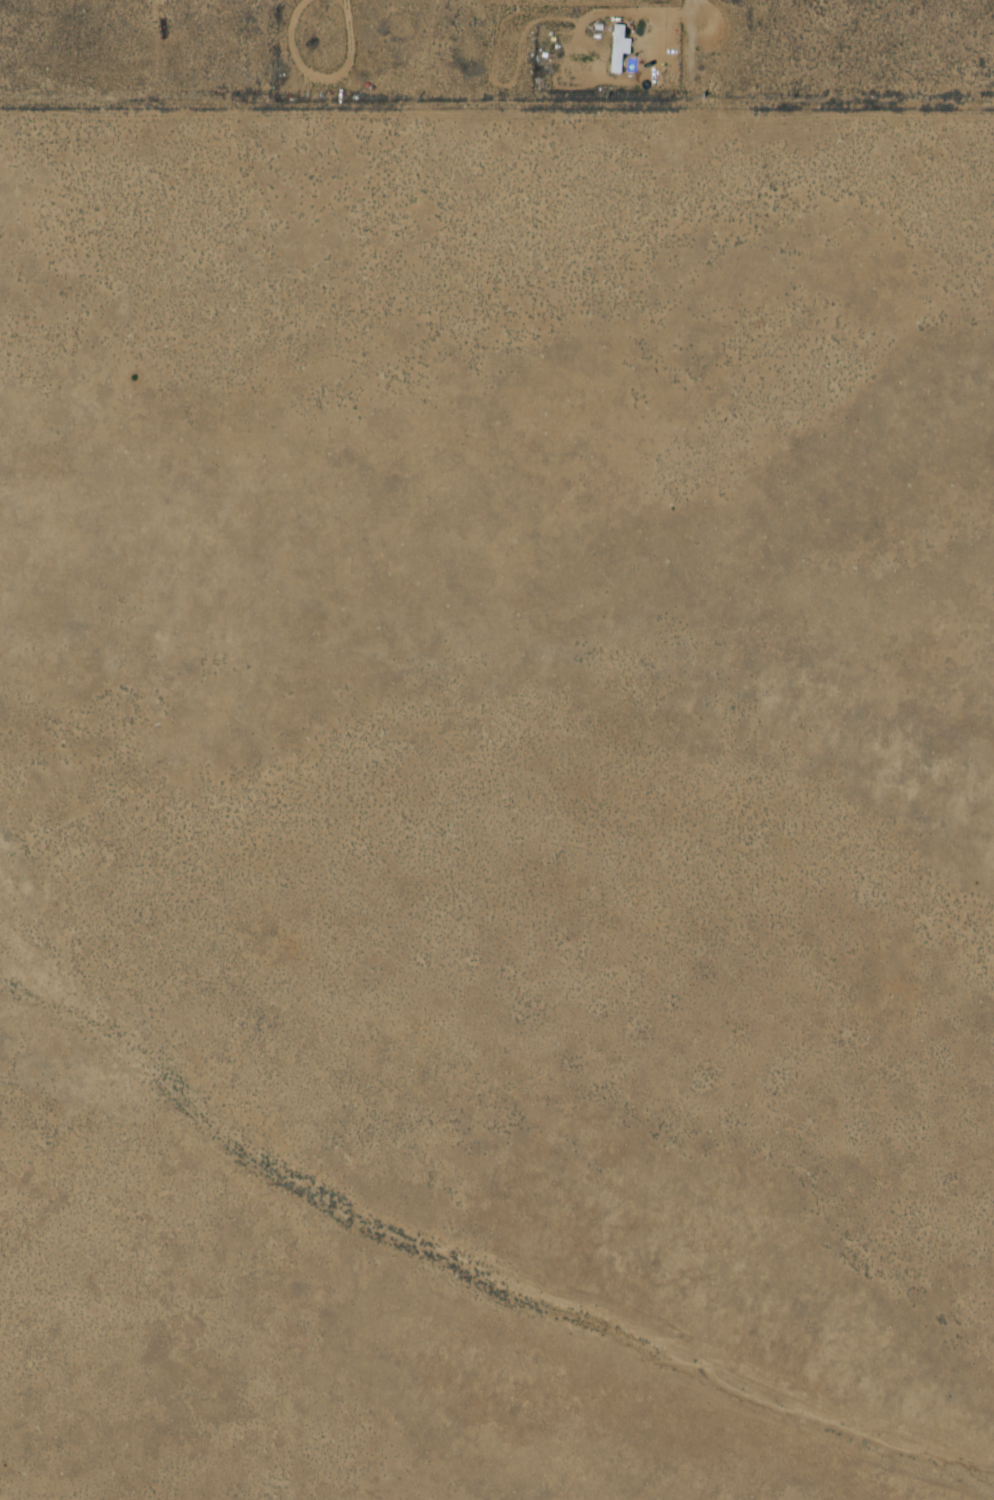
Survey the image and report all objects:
road: (691, 38)
building: (623, 47)

